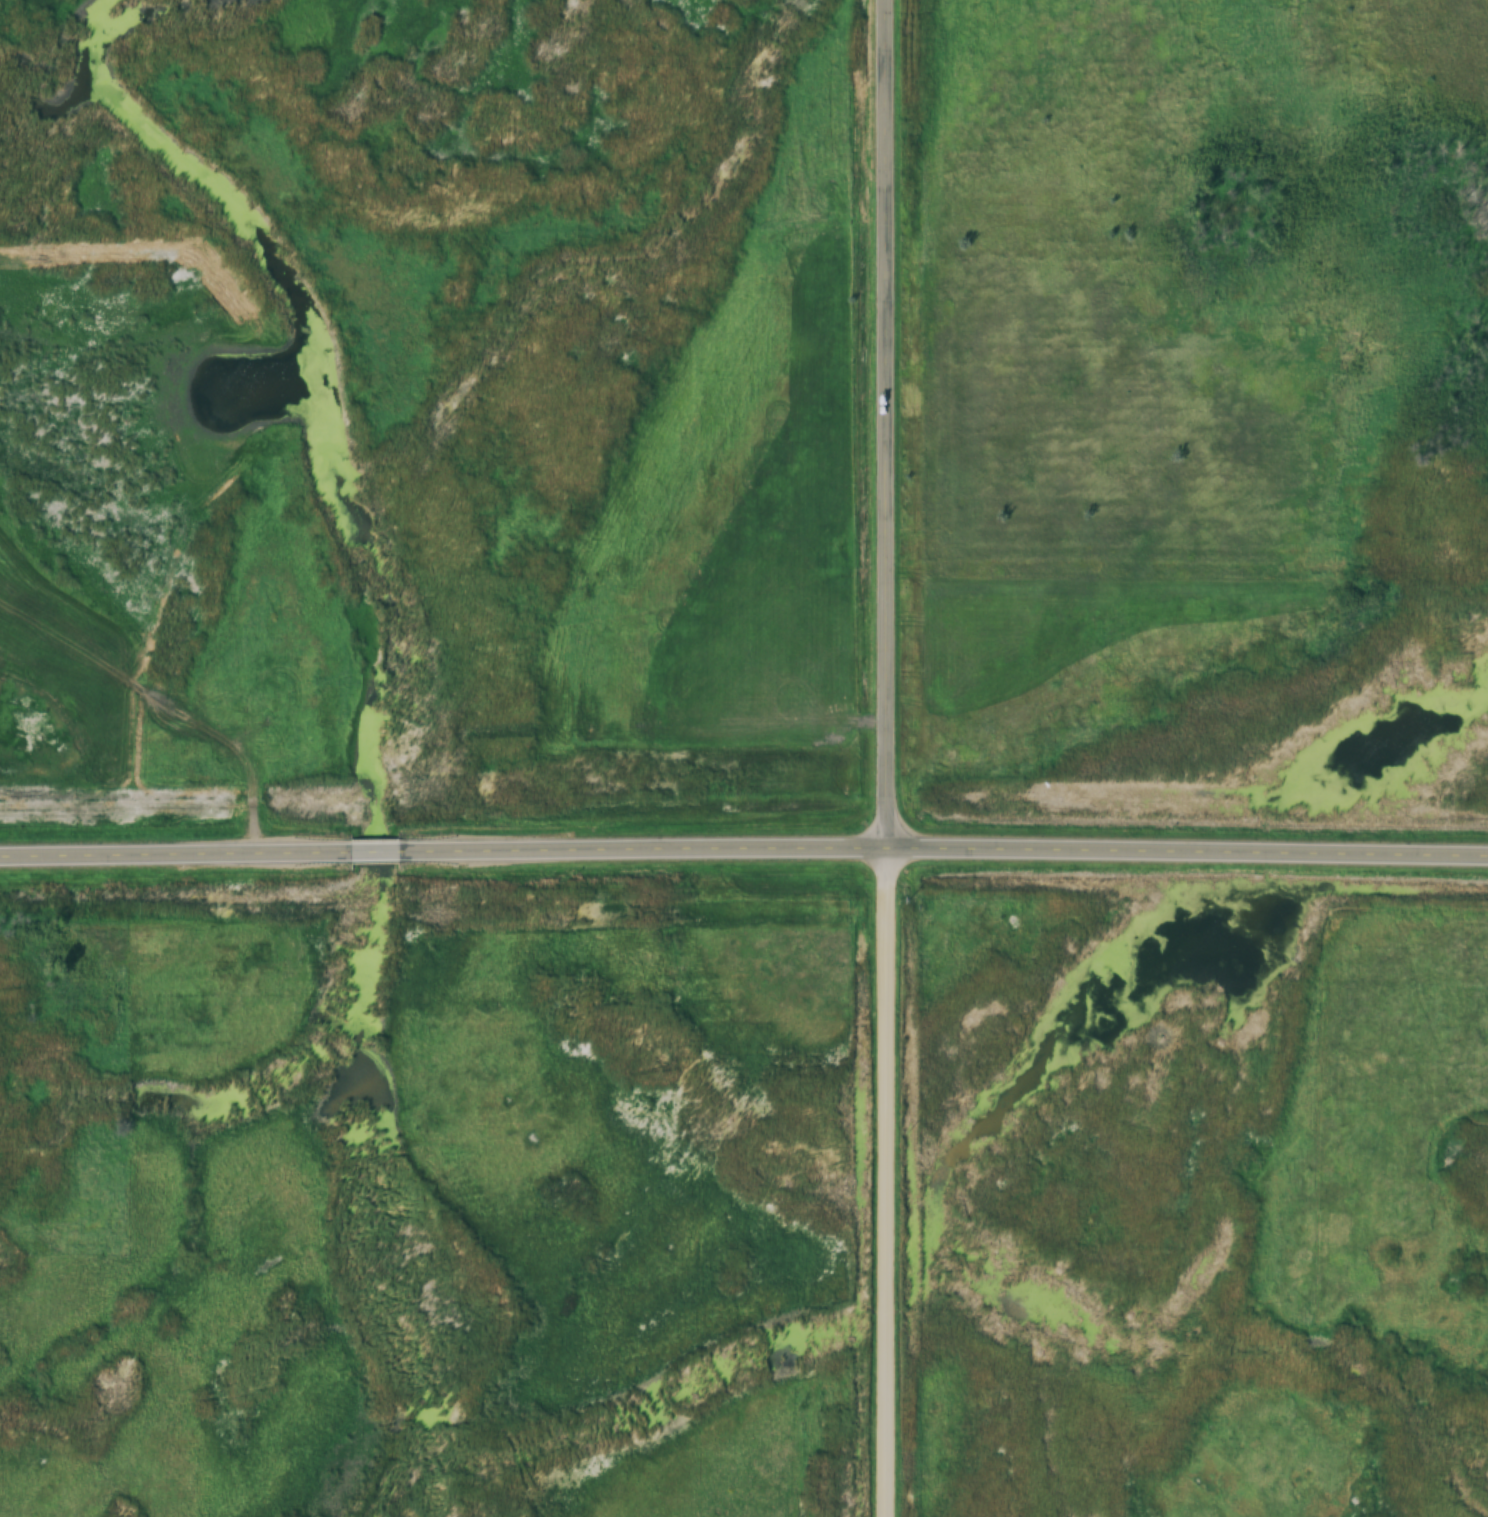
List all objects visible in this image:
road: (889, 758)
road: (378, 854)
road: (944, 854)
road: (178, 856)

